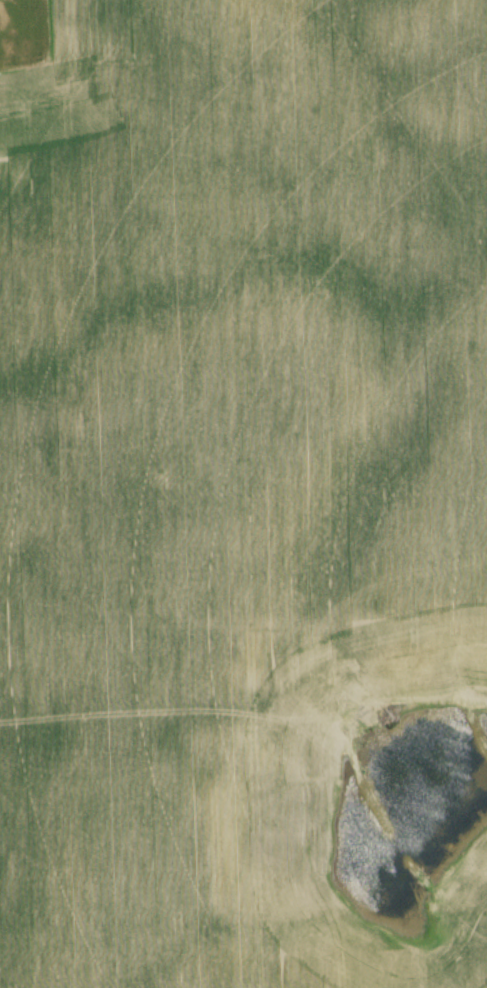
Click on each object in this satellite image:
crop: (245, 497)

